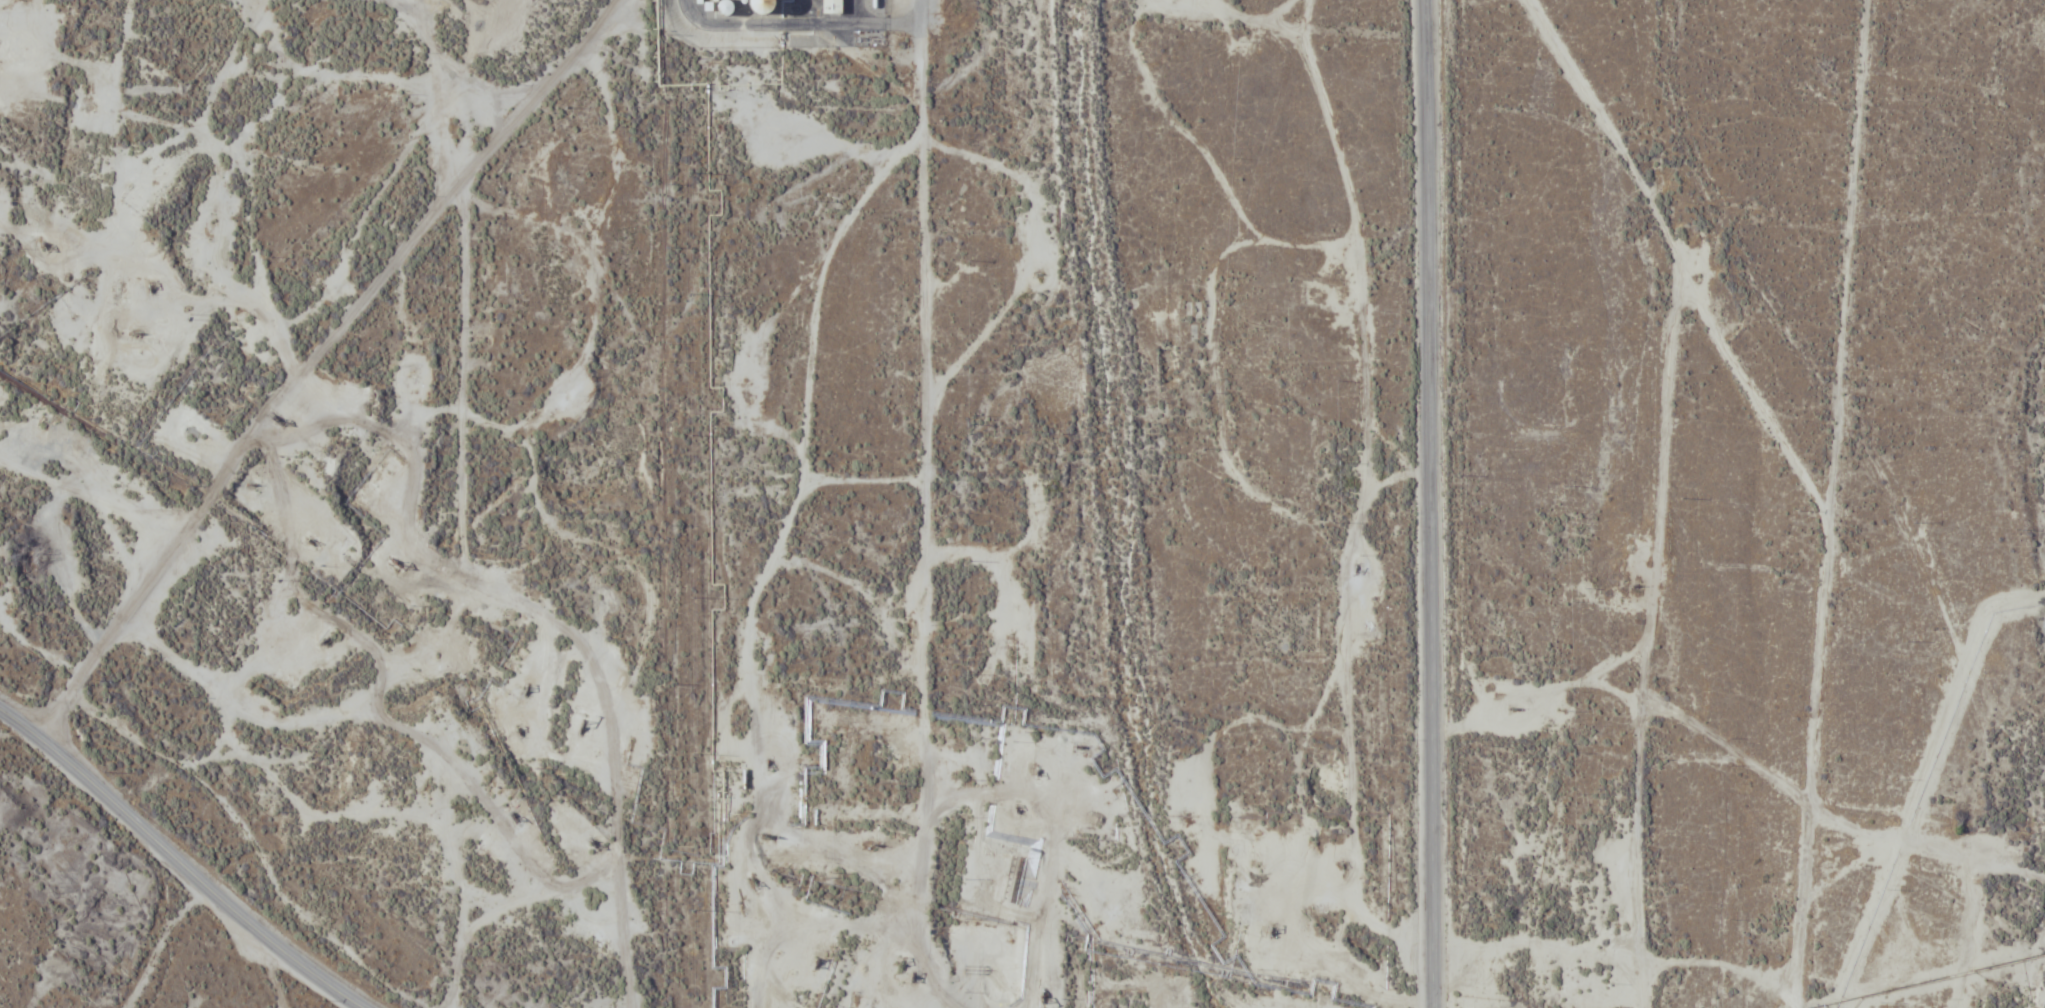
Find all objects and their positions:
building: (762, 6)
building: (724, 7)
building: (831, 7)
road: (472, 67)
road: (321, 356)
road: (465, 414)
road: (1369, 416)
road: (1667, 484)
road: (927, 492)
road: (1431, 503)
road: (75, 692)
road: (1868, 824)
road: (180, 863)
road: (1805, 905)

